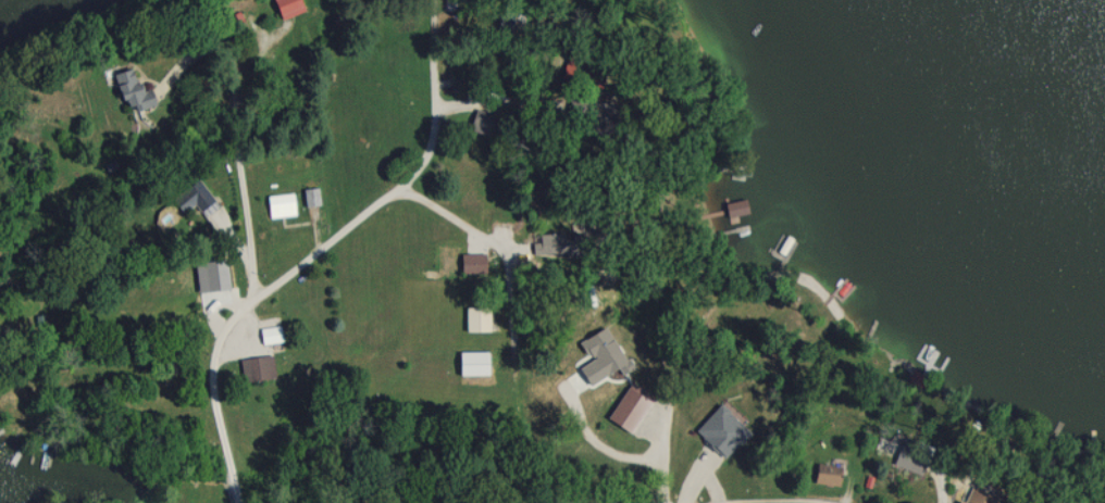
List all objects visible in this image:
building: (285, 7)
road: (430, 42)
building: (125, 86)
building: (481, 122)
road: (237, 133)
building: (310, 196)
building: (193, 198)
building: (280, 204)
road: (340, 238)
road: (491, 240)
building: (470, 262)
building: (475, 317)
building: (269, 334)
building: (472, 362)
building: (257, 366)
building: (626, 408)
road: (591, 440)
road: (657, 443)
building: (909, 455)
building: (824, 474)
building: (979, 496)

